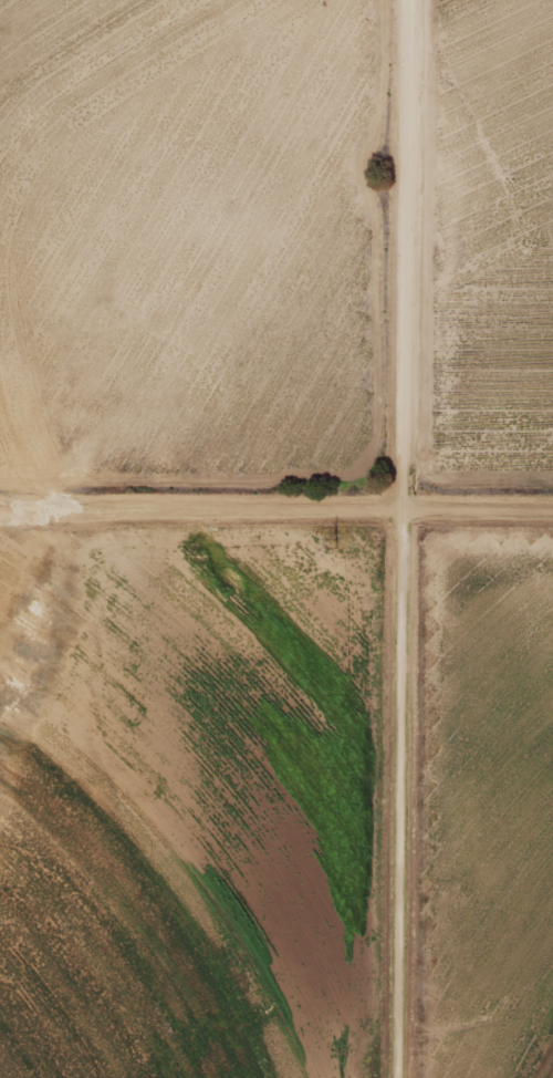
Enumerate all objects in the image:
road: (276, 505)
power tower: (327, 536)
road: (397, 539)

